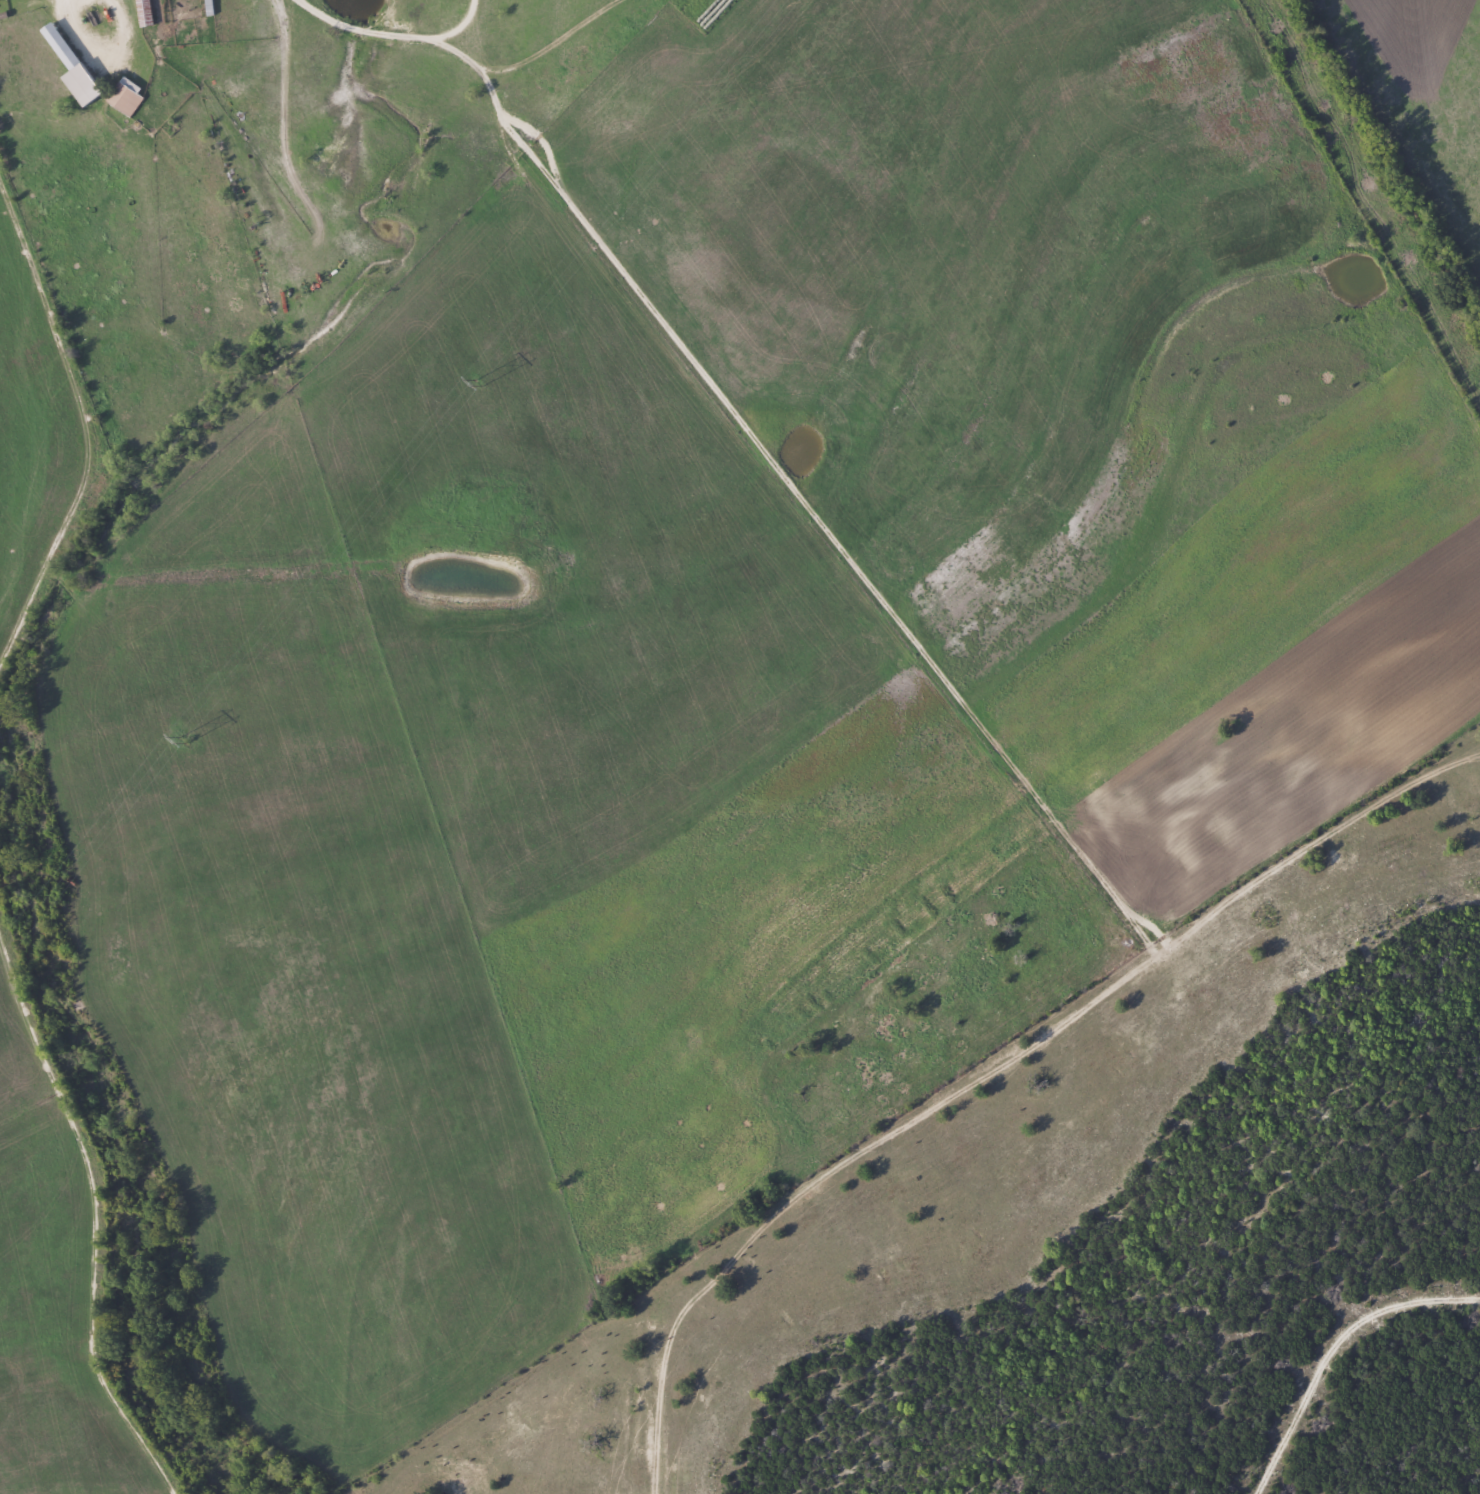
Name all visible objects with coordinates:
building: (207, 6)
building: (143, 11)
building: (70, 65)
building: (124, 96)
power tower: (480, 381)
power tower: (184, 738)
road: (971, 1067)

